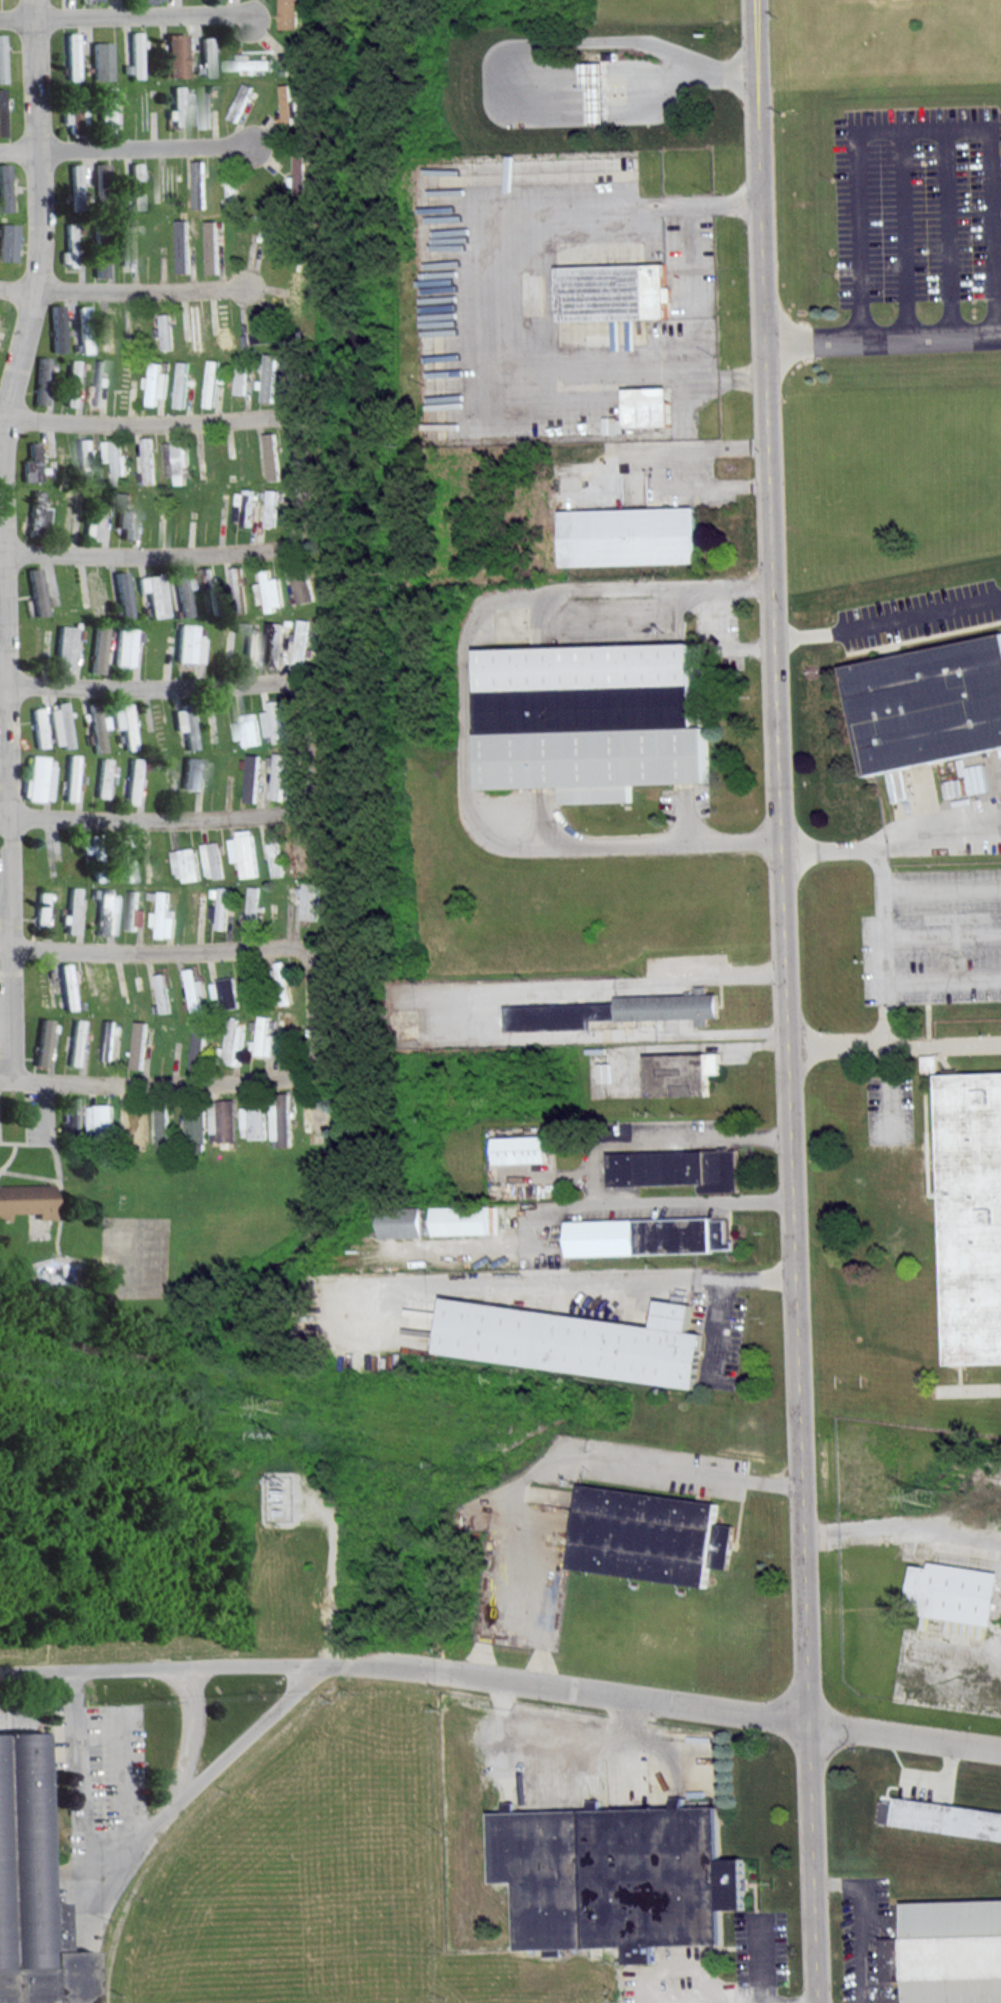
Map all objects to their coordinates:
road: (33, 2)
road: (34, 2)
road: (125, 15)
road: (558, 42)
road: (663, 107)
road: (606, 111)
road: (922, 128)
road: (127, 150)
road: (951, 231)
road: (909, 232)
road: (473, 290)
building: (616, 291)
road: (124, 292)
road: (883, 336)
road: (176, 422)
road: (681, 467)
building: (631, 536)
road: (0, 539)
road: (179, 554)
road: (887, 622)
road: (127, 688)
road: (300, 692)
building: (929, 704)
building: (595, 717)
road: (466, 723)
road: (184, 818)
road: (935, 835)
road: (881, 898)
road: (184, 952)
road: (782, 1001)
building: (615, 1011)
road: (892, 1043)
road: (314, 1059)
building: (680, 1073)
road: (137, 1084)
parking lot: (0, 1110)
parking lot: (39, 1111)
road: (662, 1136)
road: (13, 1143)
building: (521, 1149)
building: (678, 1168)
building: (27, 1200)
road: (678, 1204)
building: (958, 1210)
building: (461, 1221)
building: (403, 1222)
building: (647, 1238)
road: (591, 1280)
building: (577, 1342)
power tower: (275, 1403)
road: (700, 1474)
power substation: (278, 1498)
building: (647, 1536)
road: (513, 1541)
building: (954, 1590)
road: (486, 1620)
road: (502, 1679)
road: (191, 1732)
building: (941, 1816)
road: (149, 1831)
building: (35, 1877)
building: (616, 1877)
road: (851, 1882)
building: (947, 1951)
road: (860, 1958)
road: (729, 1999)

